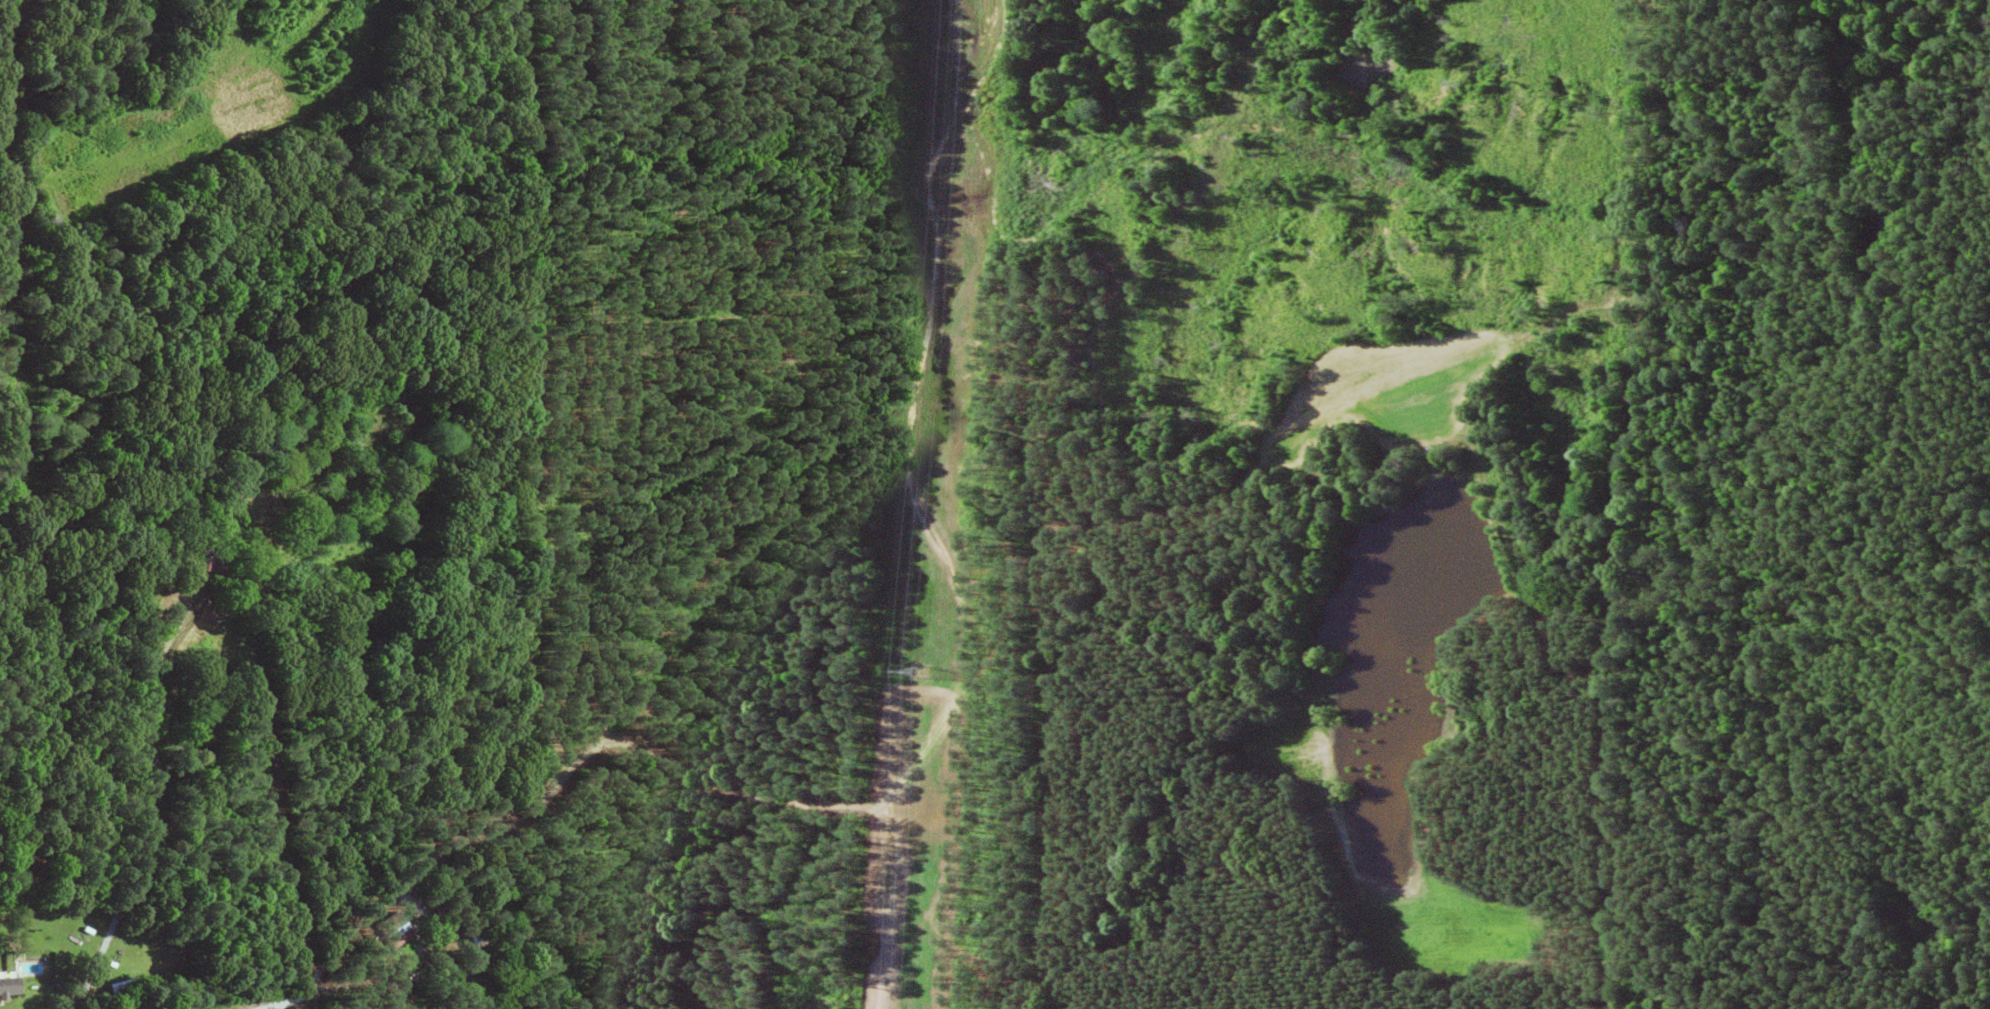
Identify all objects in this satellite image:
road: (47, 411)
building: (201, 560)
power tower: (925, 670)
building: (390, 929)
building: (6, 988)

